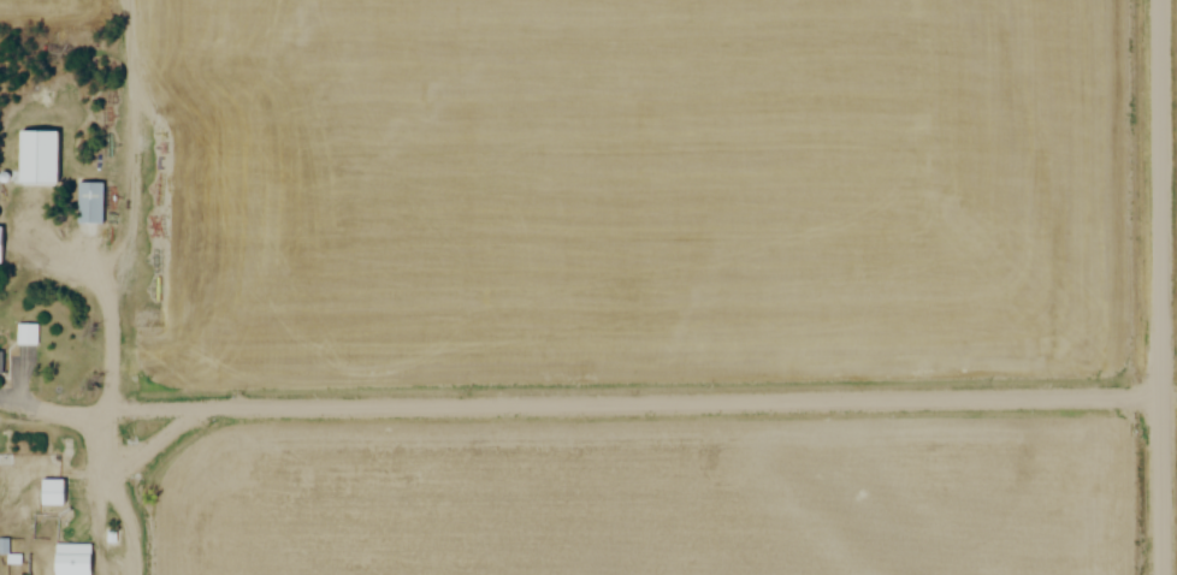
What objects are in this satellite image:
building: (90, 203)
building: (0, 245)
road: (1166, 286)
building: (26, 334)
road: (582, 401)
building: (53, 492)
building: (71, 558)

